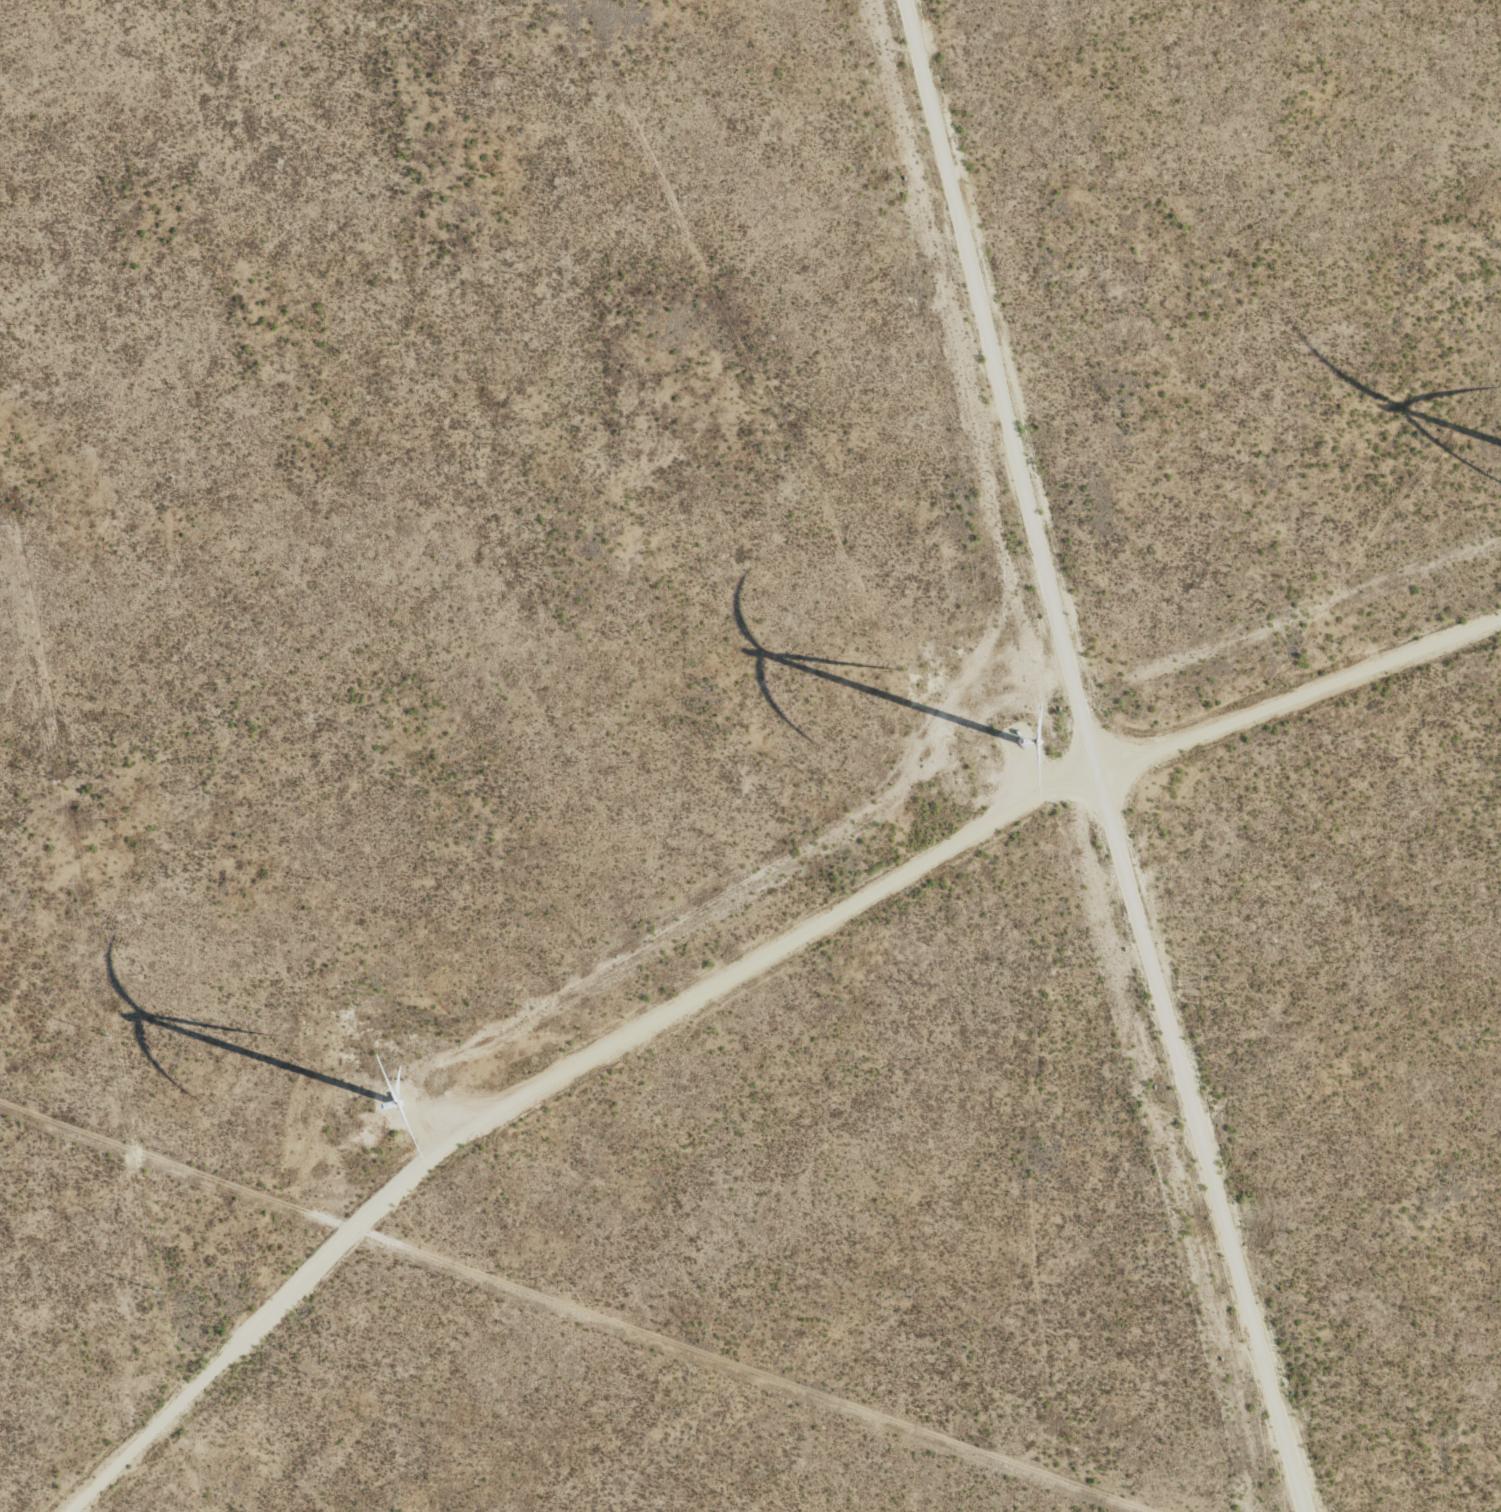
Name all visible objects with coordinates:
power tower: (4, 526)
wind turbine: (1019, 738)
power tower: (55, 782)
power tower: (106, 1038)
wind turbine: (385, 1101)
power tower: (158, 1293)

